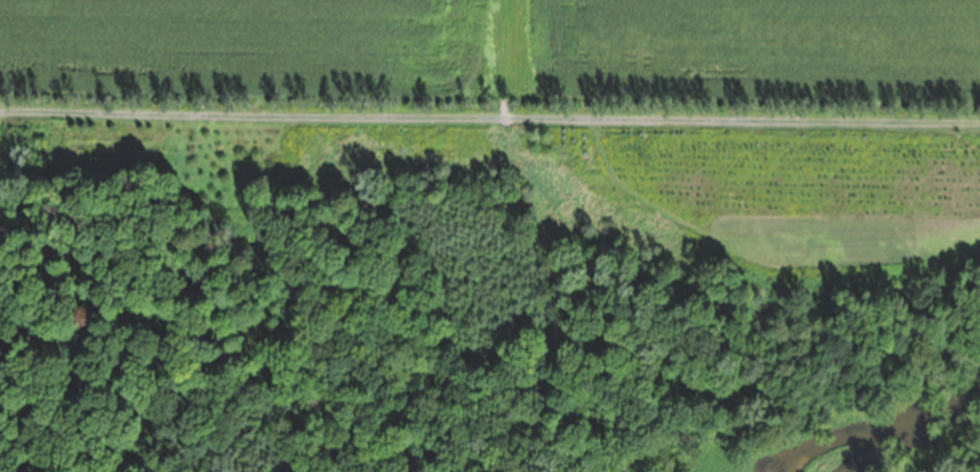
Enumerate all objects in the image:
road: (489, 117)

